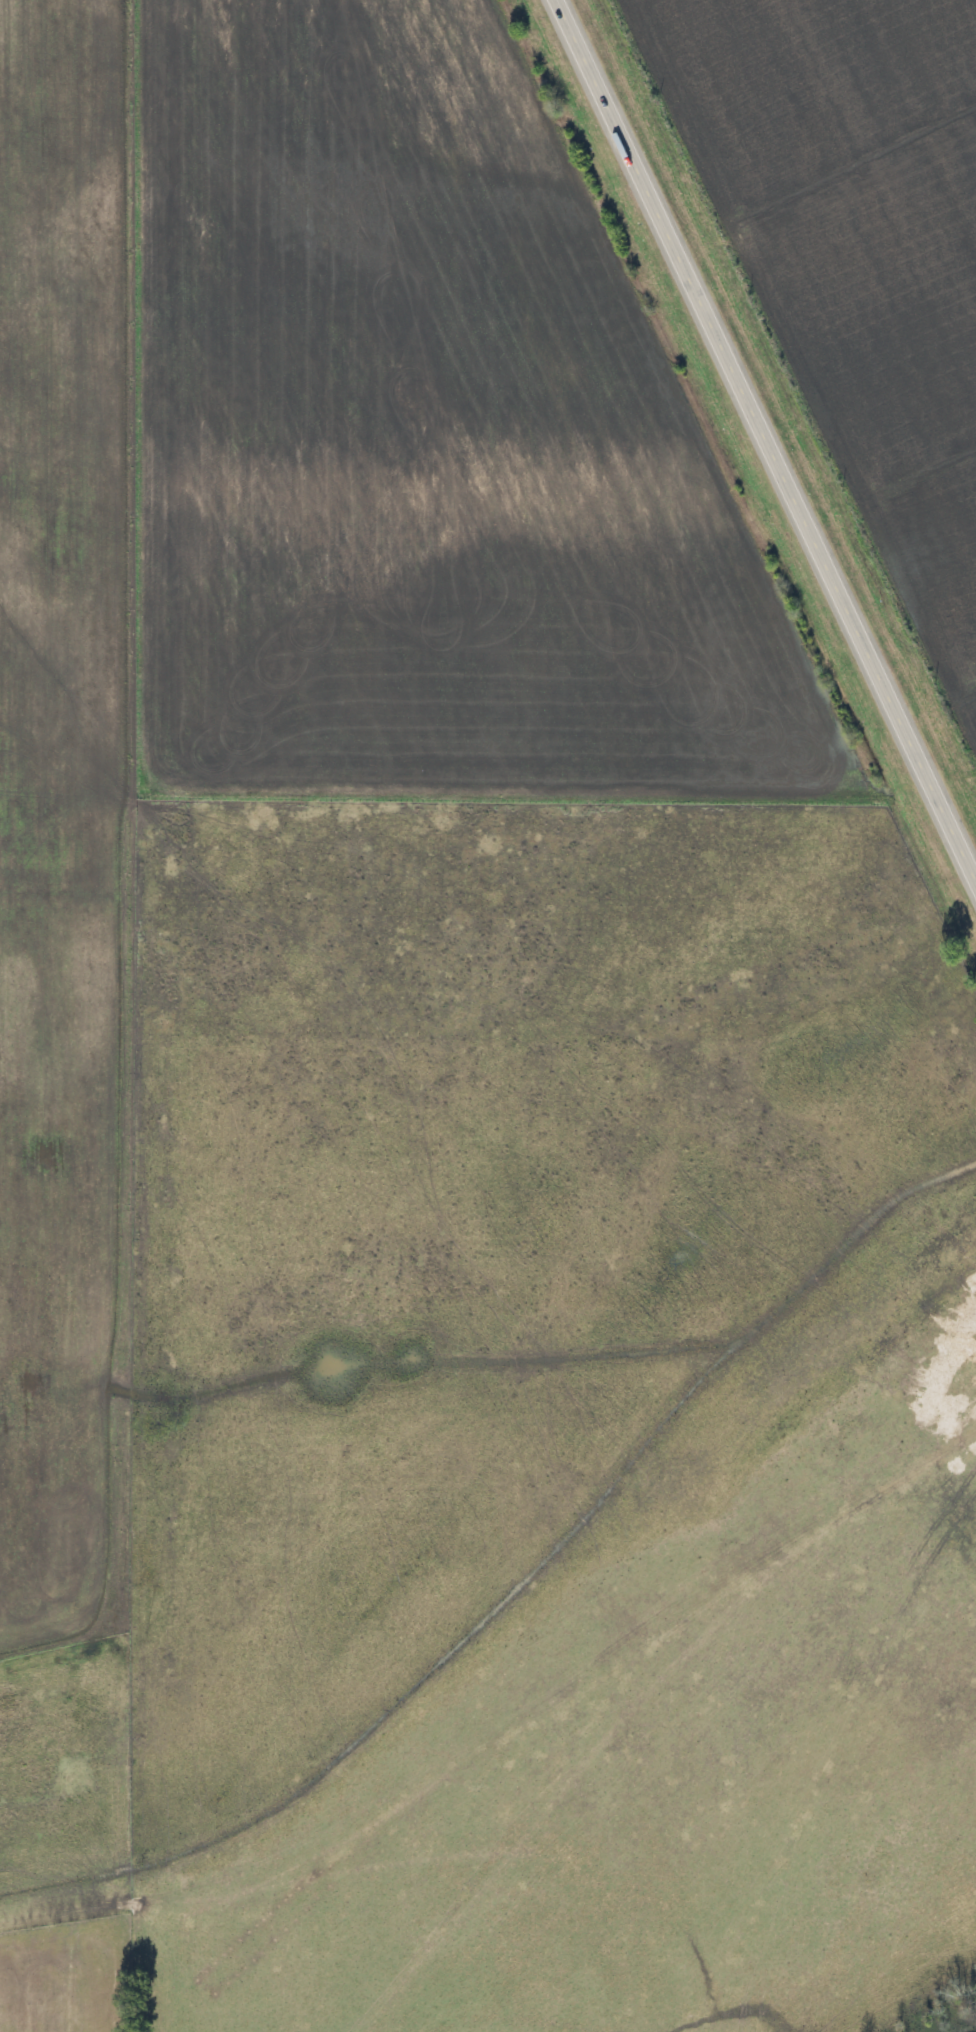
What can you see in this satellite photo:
road: (764, 442)

